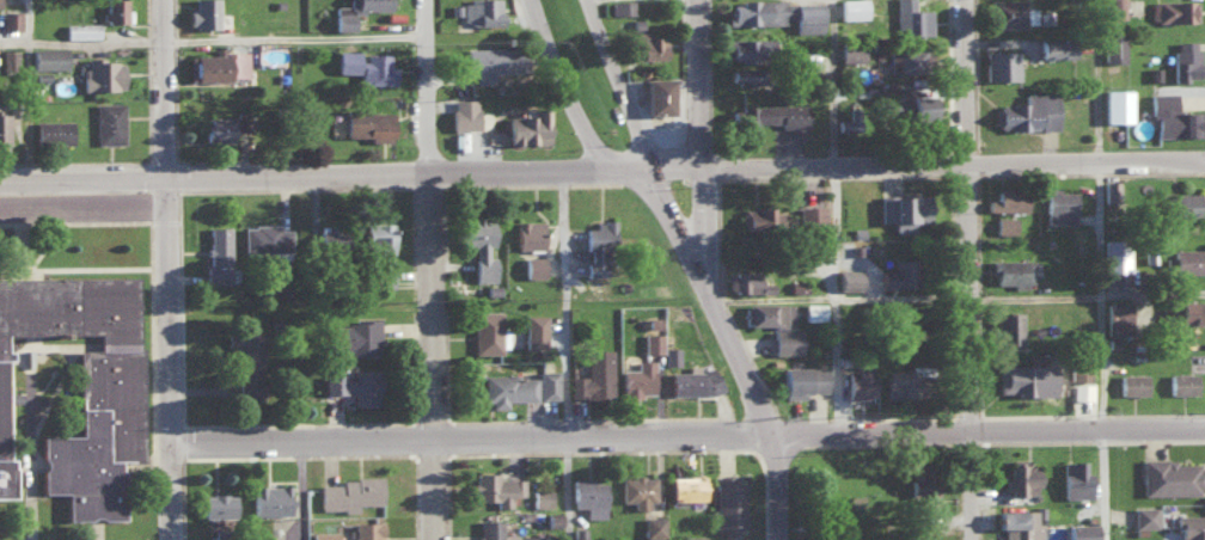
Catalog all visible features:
building: (620, 6)
building: (1113, 7)
building: (852, 8)
building: (115, 10)
building: (1173, 10)
building: (481, 11)
building: (756, 11)
building: (202, 13)
building: (1009, 13)
building: (807, 16)
building: (911, 17)
building: (8, 18)
building: (343, 19)
building: (80, 29)
building: (646, 44)
road: (219, 47)
building: (1054, 47)
building: (1113, 47)
building: (741, 48)
building: (850, 50)
building: (7, 57)
building: (47, 57)
building: (905, 59)
building: (1186, 60)
building: (491, 61)
building: (1001, 63)
building: (218, 65)
building: (365, 66)
building: (100, 72)
building: (745, 74)
road: (1097, 79)
road: (960, 81)
road: (619, 85)
road: (832, 85)
road: (698, 86)
road: (575, 88)
road: (440, 91)
road: (27, 93)
road: (178, 93)
building: (656, 93)
building: (912, 103)
building: (1115, 104)
building: (1027, 111)
building: (463, 112)
building: (769, 113)
building: (1174, 116)
building: (108, 121)
building: (367, 122)
building: (849, 123)
building: (222, 125)
building: (527, 125)
building: (2, 130)
building: (53, 130)
road: (953, 164)
road: (672, 173)
road: (411, 182)
road: (88, 188)
building: (1109, 195)
building: (1007, 198)
building: (1185, 203)
road: (668, 205)
road: (697, 205)
building: (1059, 205)
building: (904, 209)
building: (759, 216)
building: (809, 216)
building: (1004, 225)
road: (964, 231)
building: (527, 233)
building: (377, 235)
building: (330, 237)
building: (264, 238)
building: (479, 246)
building: (597, 247)
building: (218, 253)
building: (1114, 253)
building: (1186, 259)
building: (532, 265)
building: (1011, 271)
building: (898, 274)
building: (386, 277)
building: (846, 278)
building: (745, 282)
road: (839, 296)
road: (1085, 297)
road: (833, 302)
building: (813, 311)
building: (1182, 311)
building: (766, 313)
building: (1117, 317)
building: (1007, 326)
building: (534, 330)
building: (904, 330)
building: (488, 331)
building: (355, 336)
road: (730, 339)
building: (784, 340)
building: (652, 342)
road: (1100, 349)
road: (563, 354)
building: (669, 355)
road: (444, 361)
building: (246, 362)
road: (179, 363)
building: (593, 375)
building: (1019, 378)
building: (636, 379)
building: (1079, 379)
building: (692, 380)
building: (801, 380)
building: (857, 381)
building: (900, 382)
building: (1132, 382)
building: (1181, 382)
building: (81, 383)
building: (545, 383)
building: (353, 386)
building: (507, 388)
road: (969, 418)
road: (987, 430)
road: (475, 441)
building: (1021, 477)
building: (1173, 477)
building: (1074, 479)
building: (686, 486)
building: (923, 486)
building: (494, 487)
building: (637, 489)
road: (772, 490)
building: (348, 493)
building: (587, 495)
building: (540, 497)
building: (269, 498)
building: (728, 502)
building: (218, 504)
building: (1144, 516)
building: (1017, 523)
building: (1191, 526)
building: (652, 527)
building: (512, 529)
building: (366, 530)
building: (1079, 530)
building: (577, 533)
building: (323, 535)
building: (693, 536)
building: (288, 539)

